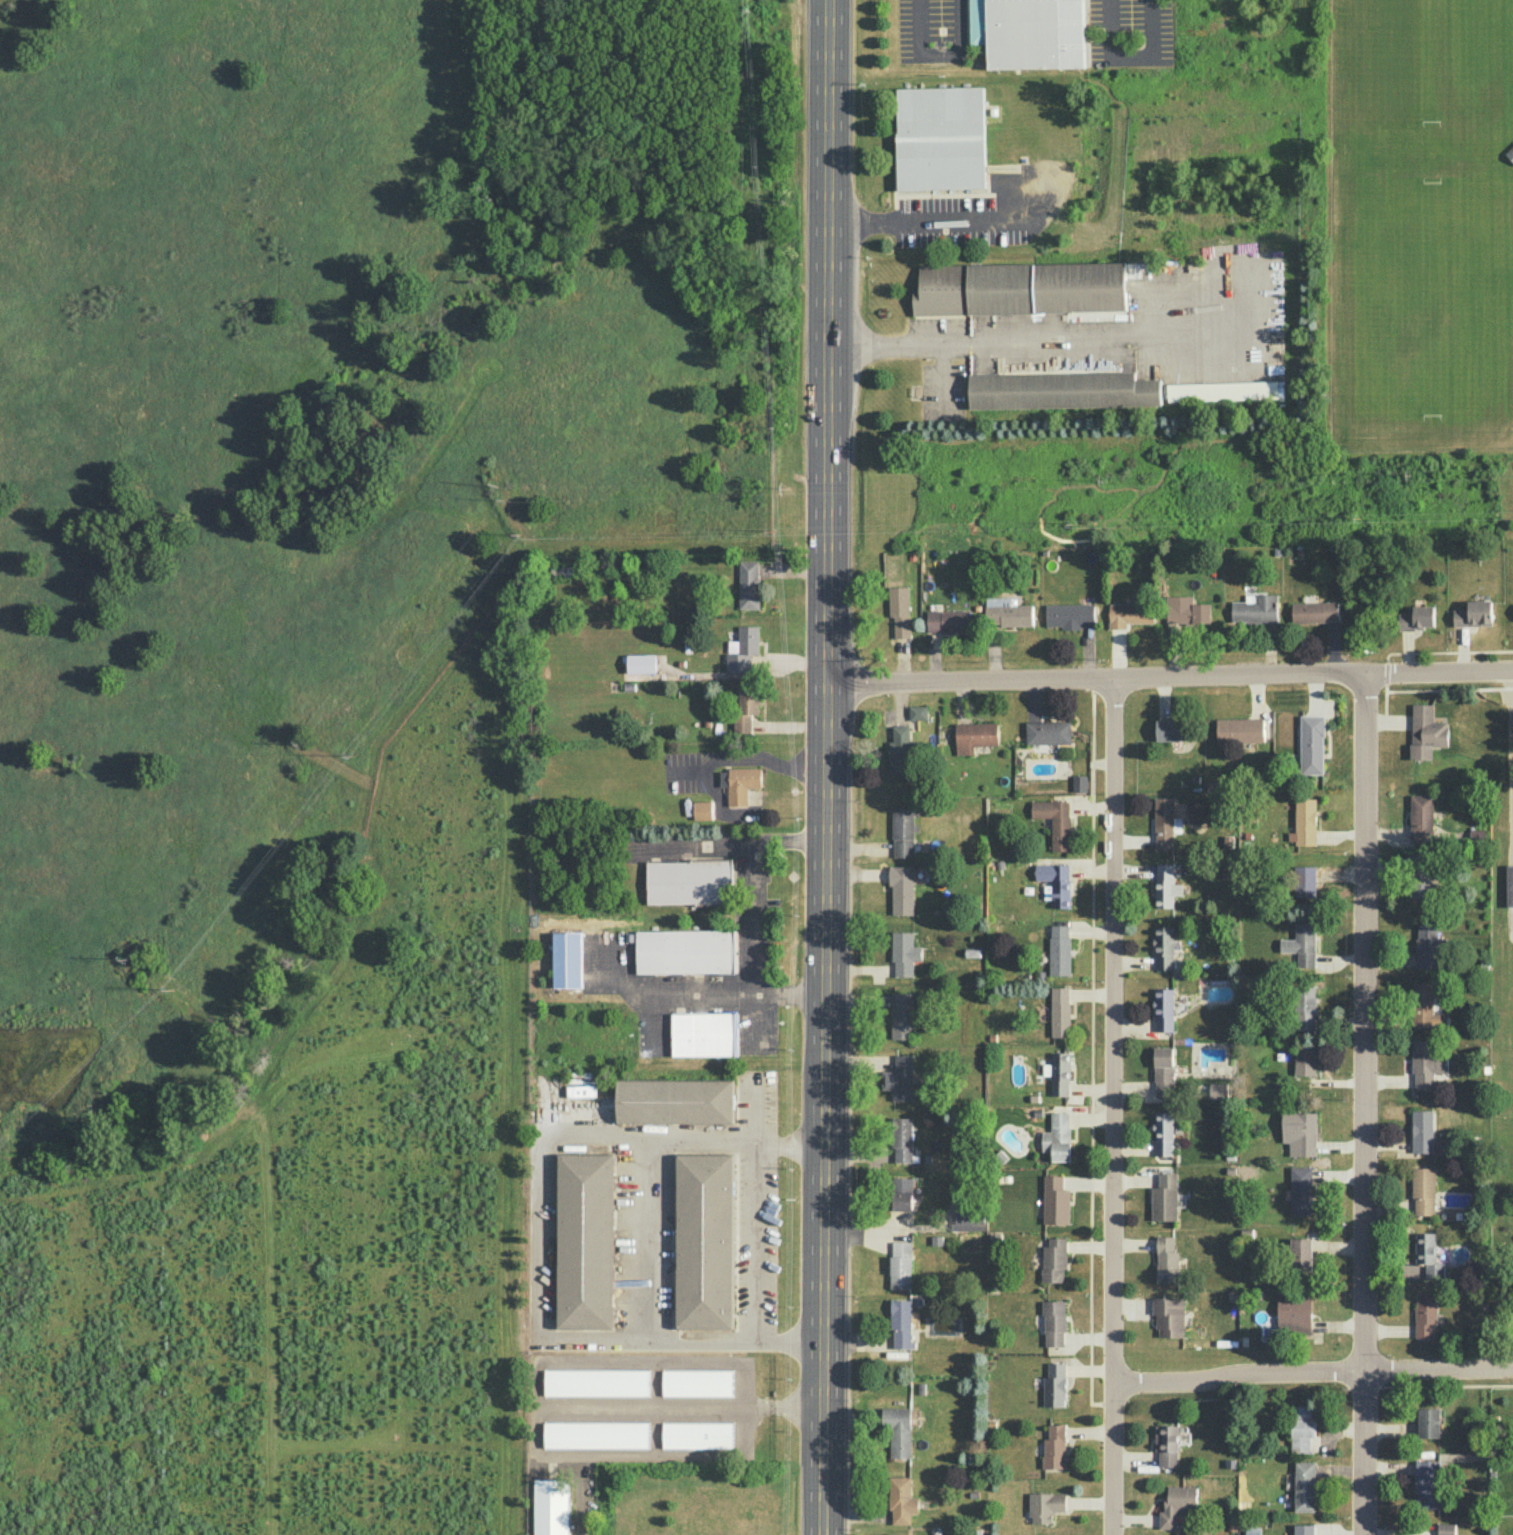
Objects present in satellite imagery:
building: (1036, 34)
park: (1250, 34)
road: (1263, 35)
road: (938, 53)
road: (1132, 54)
park: (1430, 64)
building: (994, 111)
building: (940, 137)
building: (1510, 153)
road: (945, 222)
building: (1020, 287)
park: (1431, 301)
road: (1016, 335)
building: (1062, 389)
building: (1223, 391)
power tower: (1410, 478)
power tower: (1102, 484)
power tower: (787, 491)
power tower: (499, 497)
power tower: (1358, 522)
power tower: (1073, 526)
power tower: (774, 533)
power tower: (519, 538)
building: (749, 584)
building: (1255, 608)
building: (900, 610)
building: (1188, 611)
building: (1313, 611)
building: (1007, 612)
building: (1130, 614)
building: (1474, 614)
building: (1069, 615)
building: (1416, 618)
building: (947, 619)
building: (742, 649)
building: (641, 663)
road: (1168, 678)
building: (746, 707)
building: (918, 712)
building: (1168, 729)
building: (1239, 729)
building: (1047, 731)
building: (1426, 732)
building: (974, 736)
building: (1311, 743)
road: (1510, 744)
power tower: (298, 746)
power tower: (351, 759)
road: (749, 762)
road: (824, 767)
building: (739, 783)
building: (1079, 783)
building: (702, 809)
building: (1421, 818)
building: (1055, 821)
building: (1305, 821)
building: (1163, 822)
building: (902, 831)
building: (1478, 835)
road: (732, 839)
road: (1512, 853)
building: (1421, 876)
building: (689, 881)
building: (1305, 881)
building: (1056, 882)
building: (1509, 885)
building: (1164, 886)
building: (901, 888)
building: (1301, 943)
building: (1426, 944)
building: (1163, 946)
building: (1059, 950)
building: (685, 951)
road: (757, 951)
building: (904, 952)
building: (567, 959)
power tower: (127, 961)
power tower: (173, 990)
road: (734, 994)
building: (1425, 1006)
building: (1304, 1007)
building: (1164, 1009)
building: (1060, 1012)
building: (901, 1014)
building: (704, 1033)
building: (1304, 1058)
building: (1426, 1063)
building: (1163, 1071)
building: (1060, 1073)
building: (900, 1078)
building: (1218, 1090)
building: (581, 1091)
building: (675, 1101)
road: (1362, 1106)
road: (1114, 1107)
building: (1421, 1131)
building: (1300, 1132)
building: (1164, 1133)
building: (1057, 1137)
building: (902, 1138)
building: (1302, 1189)
building: (1423, 1189)
building: (902, 1193)
building: (1164, 1197)
building: (1055, 1200)
road: (753, 1208)
road: (538, 1234)
road: (648, 1238)
building: (585, 1241)
building: (704, 1241)
building: (1427, 1253)
building: (1300, 1257)
building: (1054, 1260)
building: (1167, 1260)
building: (900, 1264)
building: (1425, 1314)
building: (1169, 1315)
building: (1294, 1315)
building: (1054, 1321)
building: (900, 1322)
road: (1313, 1374)
building: (596, 1382)
building: (697, 1382)
road: (1446, 1384)
building: (1054, 1385)
building: (1428, 1422)
building: (1302, 1429)
road: (1390, 1429)
building: (898, 1430)
building: (596, 1435)
building: (697, 1435)
building: (1166, 1444)
building: (1054, 1446)
road: (1389, 1468)
building: (1427, 1483)
building: (1304, 1486)
building: (901, 1500)
building: (1176, 1504)
building: (1045, 1505)
building: (551, 1507)
building: (1303, 1529)
building: (1446, 1529)
road: (1400, 1532)

